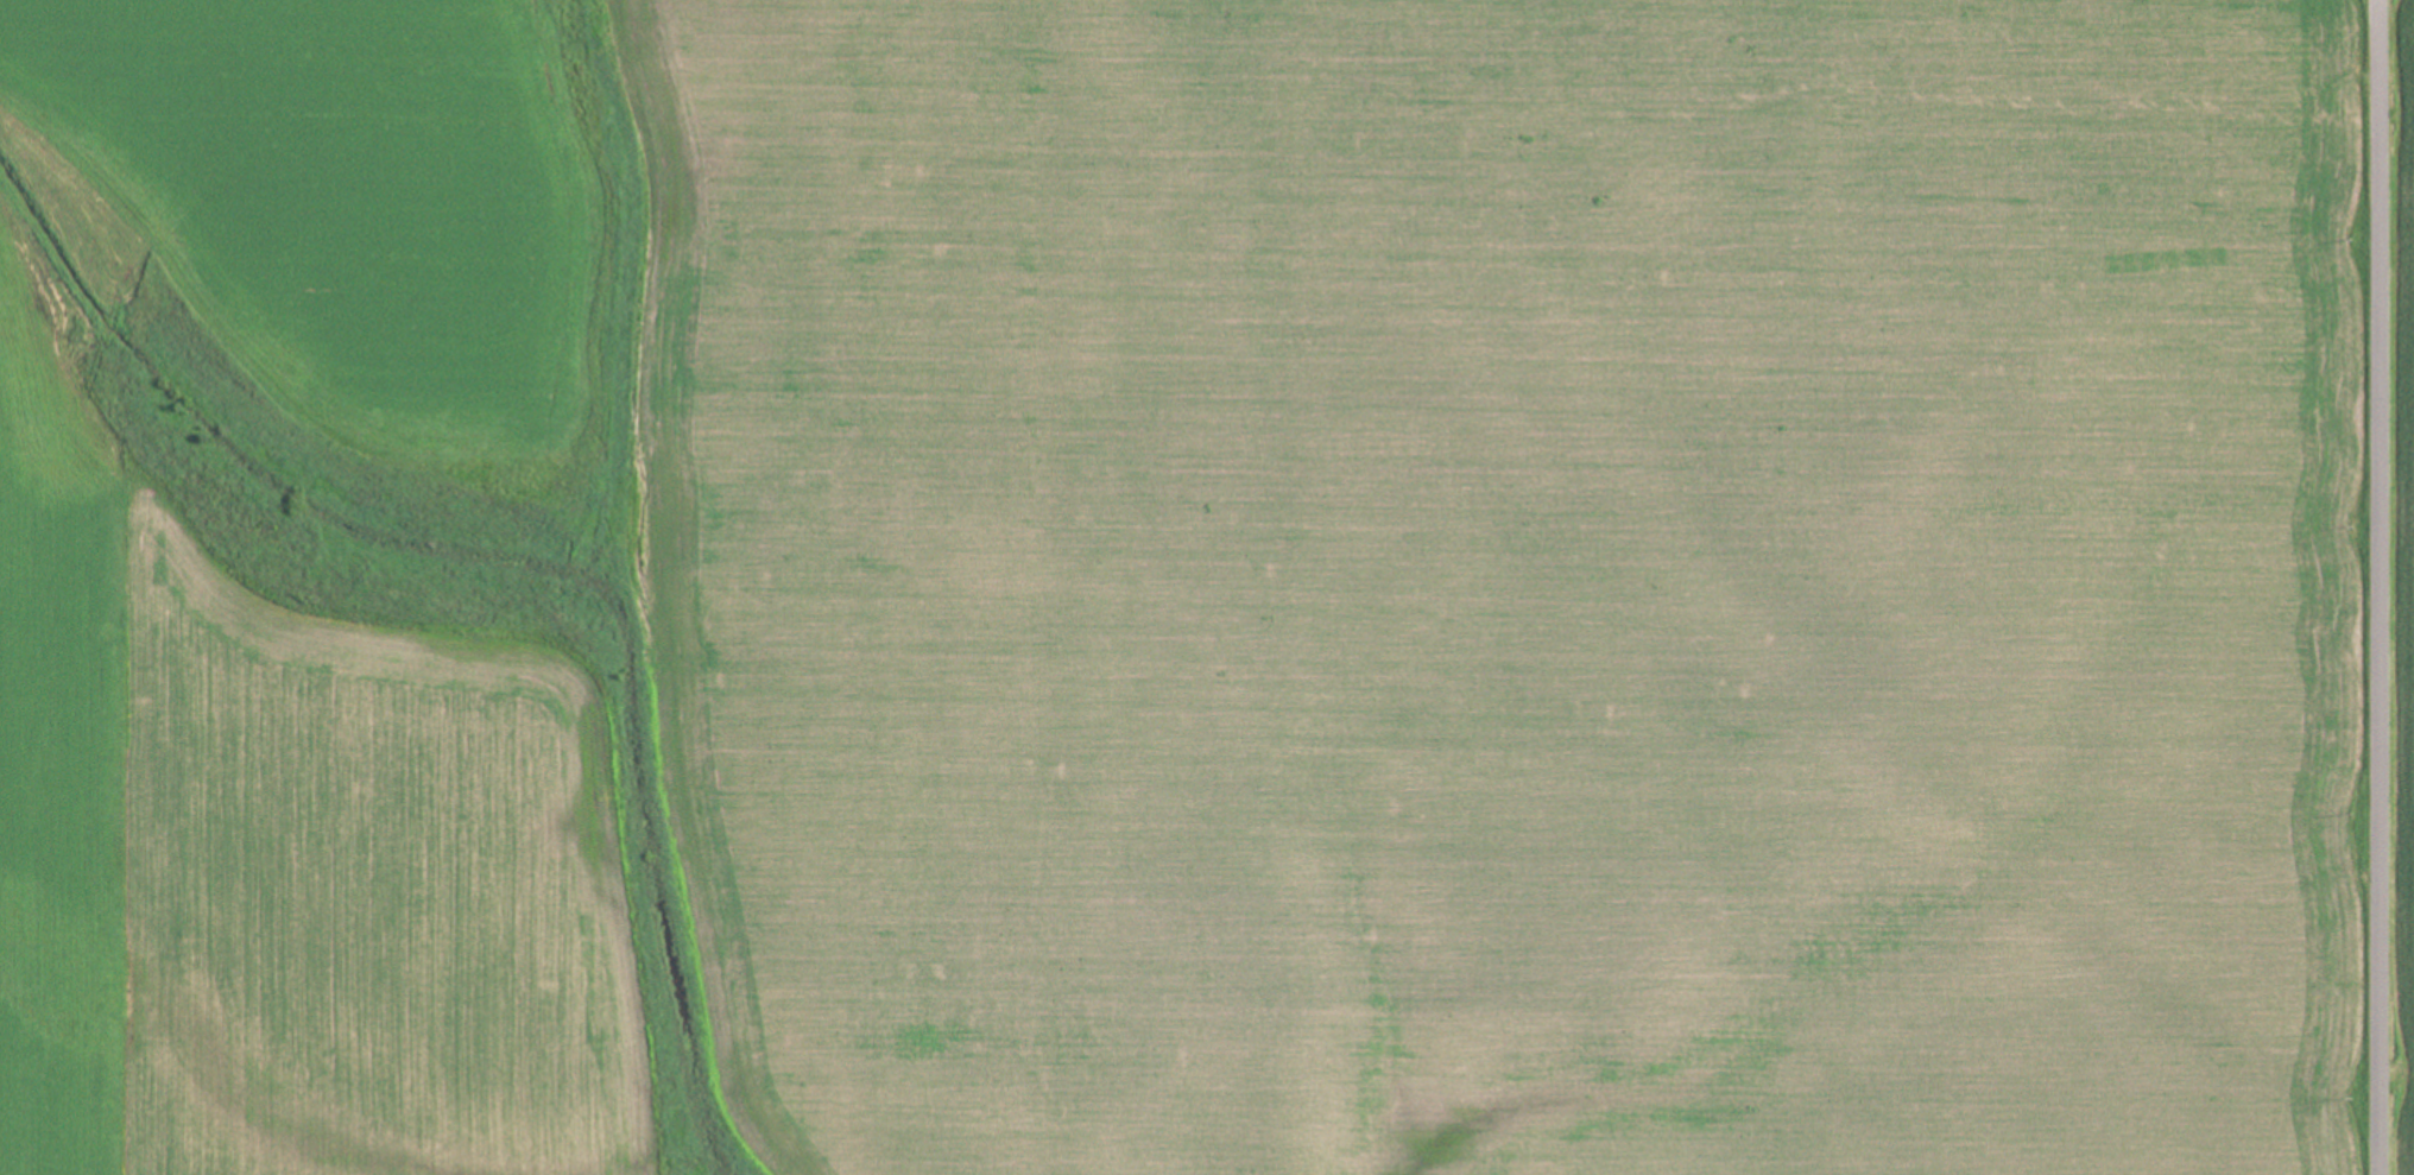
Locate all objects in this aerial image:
road: (2342, 587)

